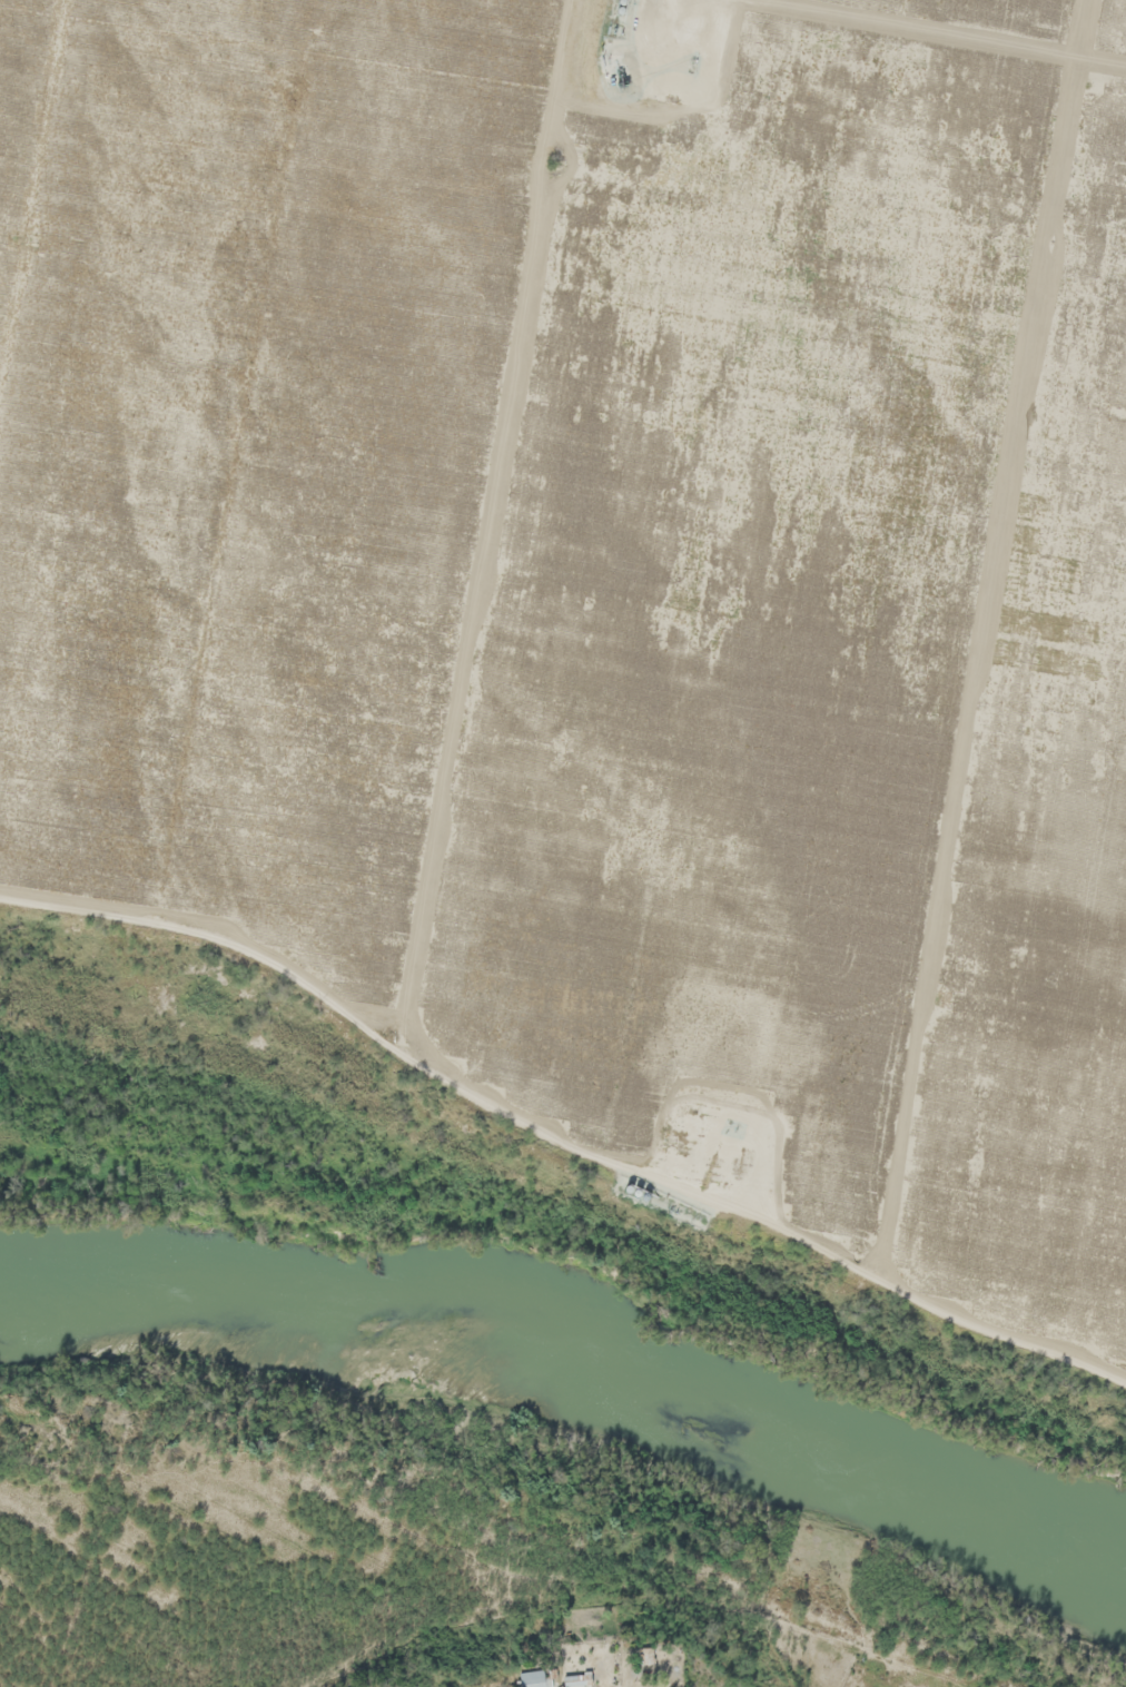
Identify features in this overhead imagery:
road: (1081, 28)
road: (949, 31)
road: (483, 501)
road: (978, 667)
road: (556, 1141)
river: (575, 1381)
road: (626, 1668)
building: (536, 1674)

